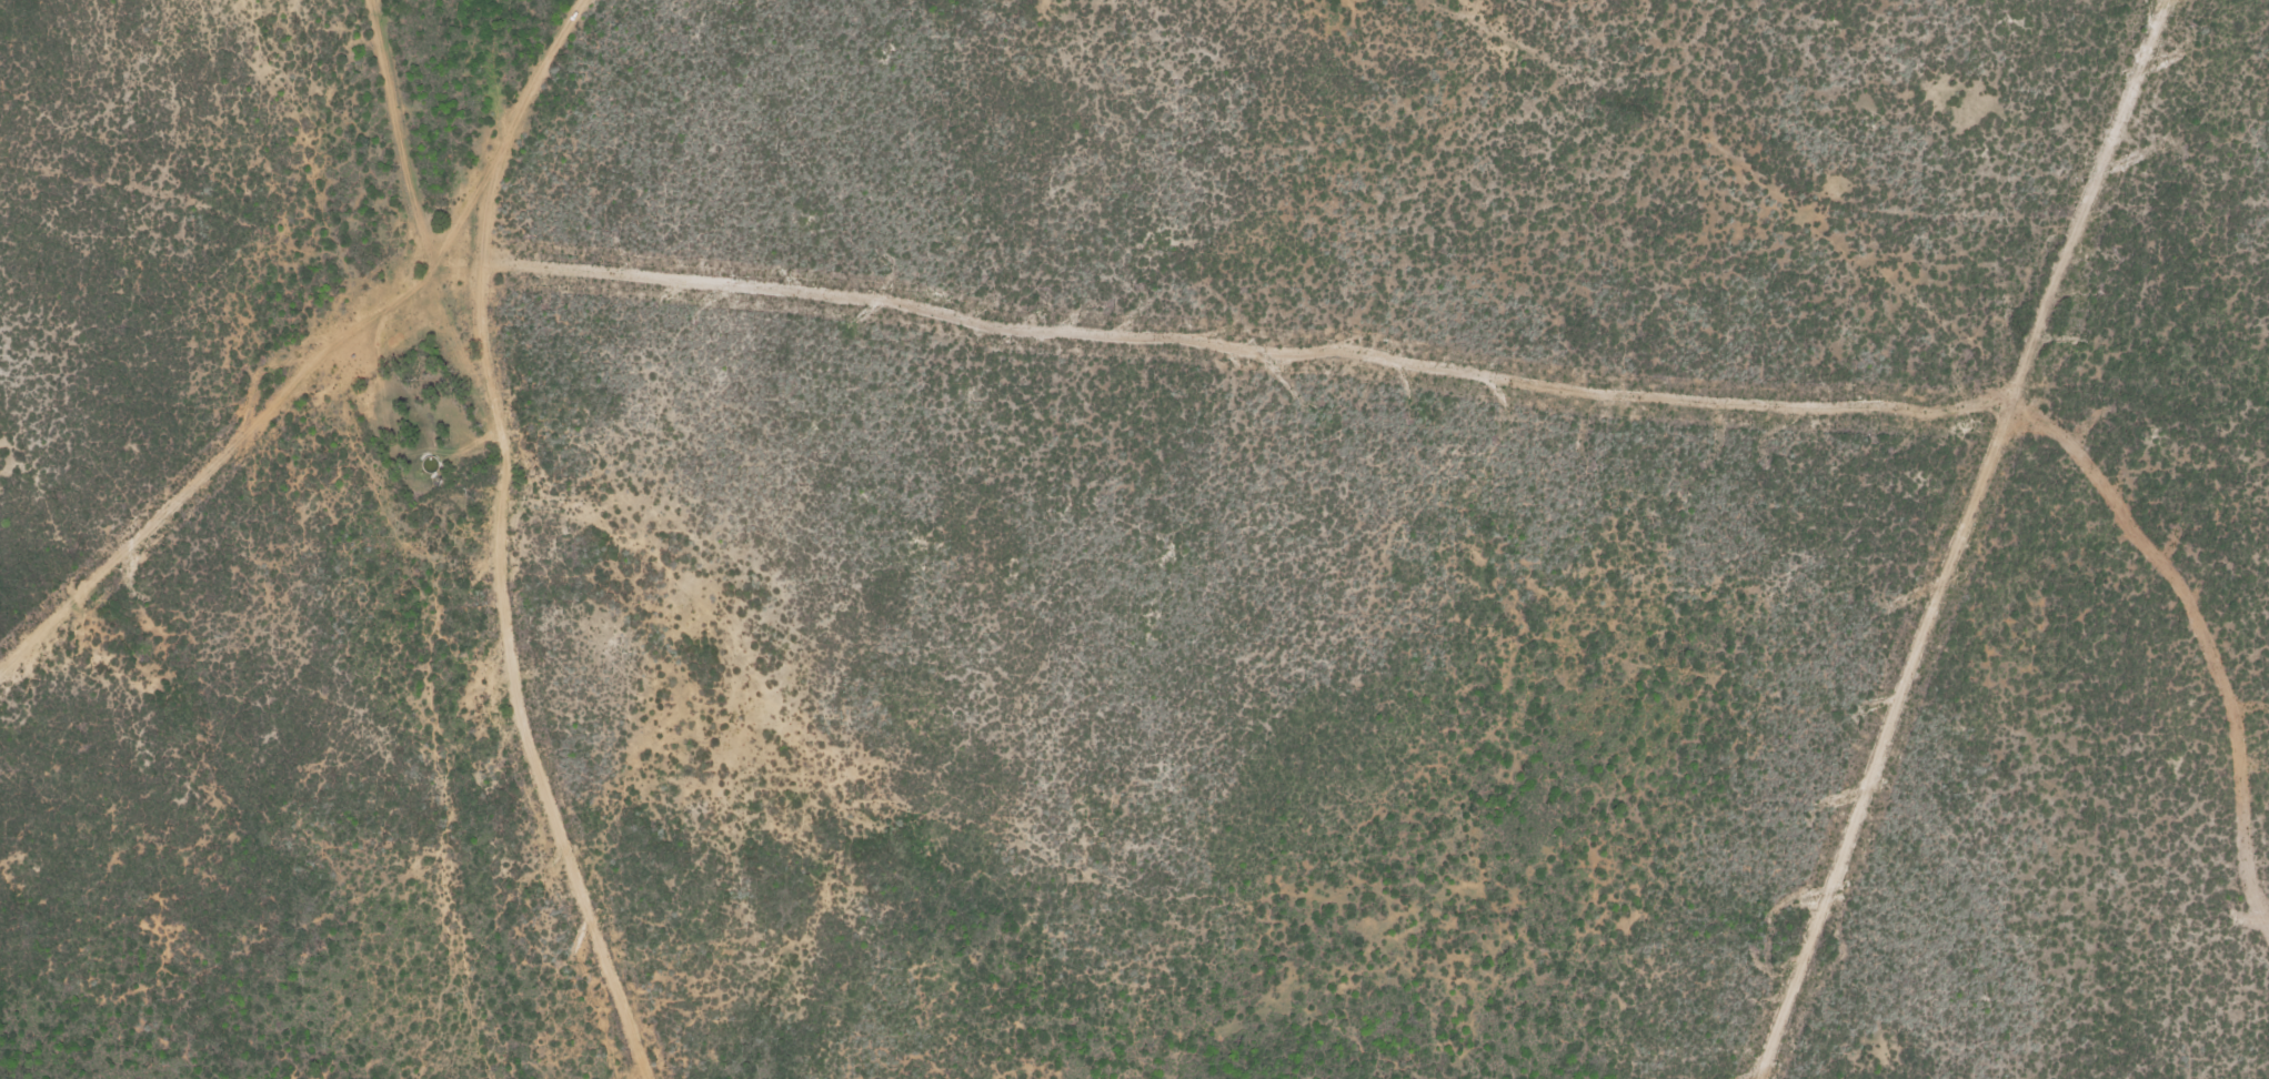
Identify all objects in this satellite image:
road: (554, 44)
road: (2148, 46)
road: (1932, 581)
road: (514, 598)

